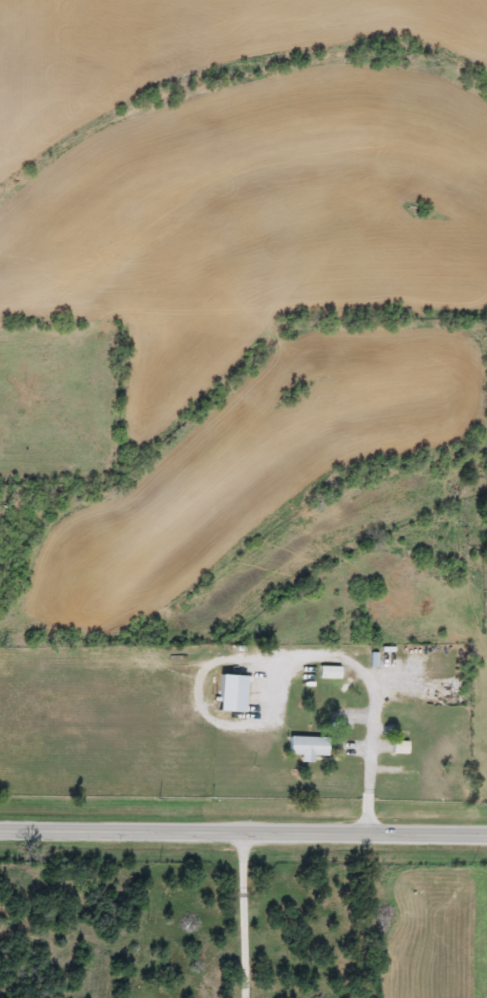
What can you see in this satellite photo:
road: (371, 681)
building: (229, 692)
building: (306, 747)
building: (398, 747)
road: (243, 827)
road: (245, 913)

